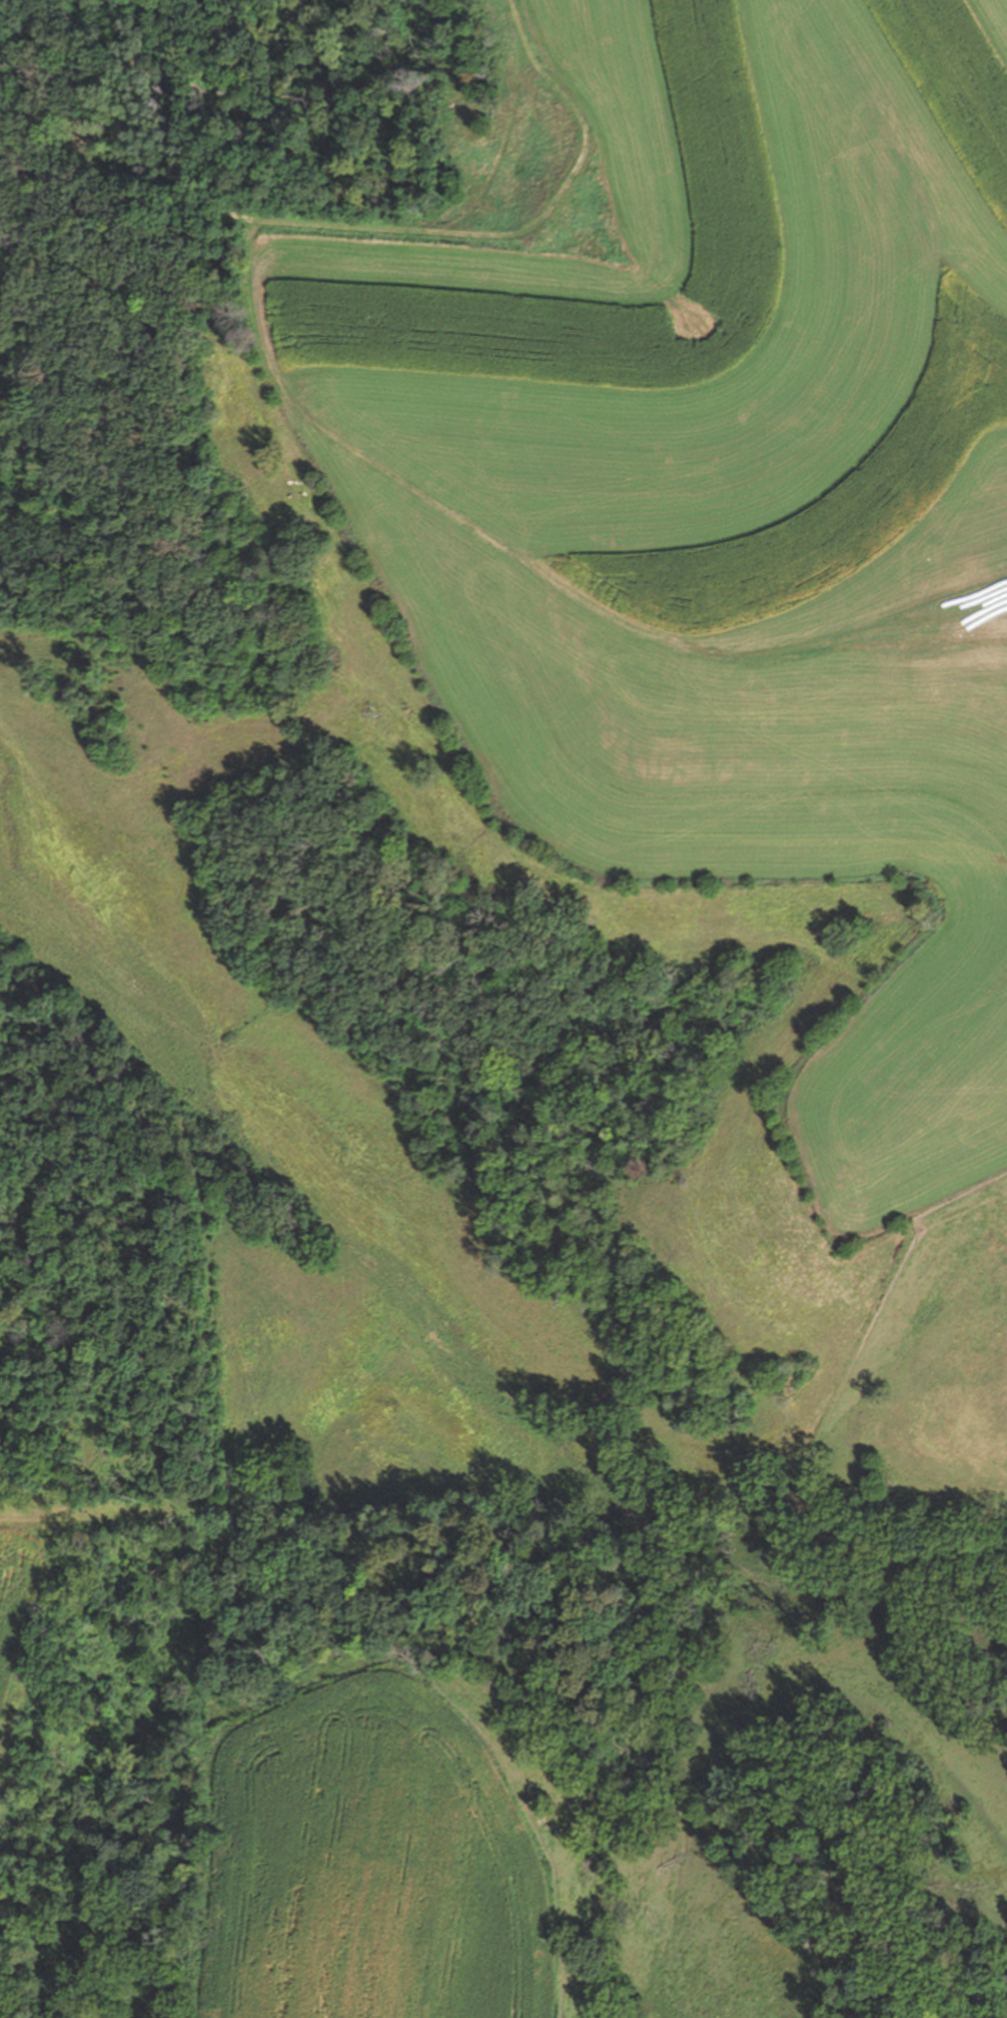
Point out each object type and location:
road: (150, 67)
building: (5, 174)
road: (1, 208)
road: (428, 231)
road: (28, 244)

